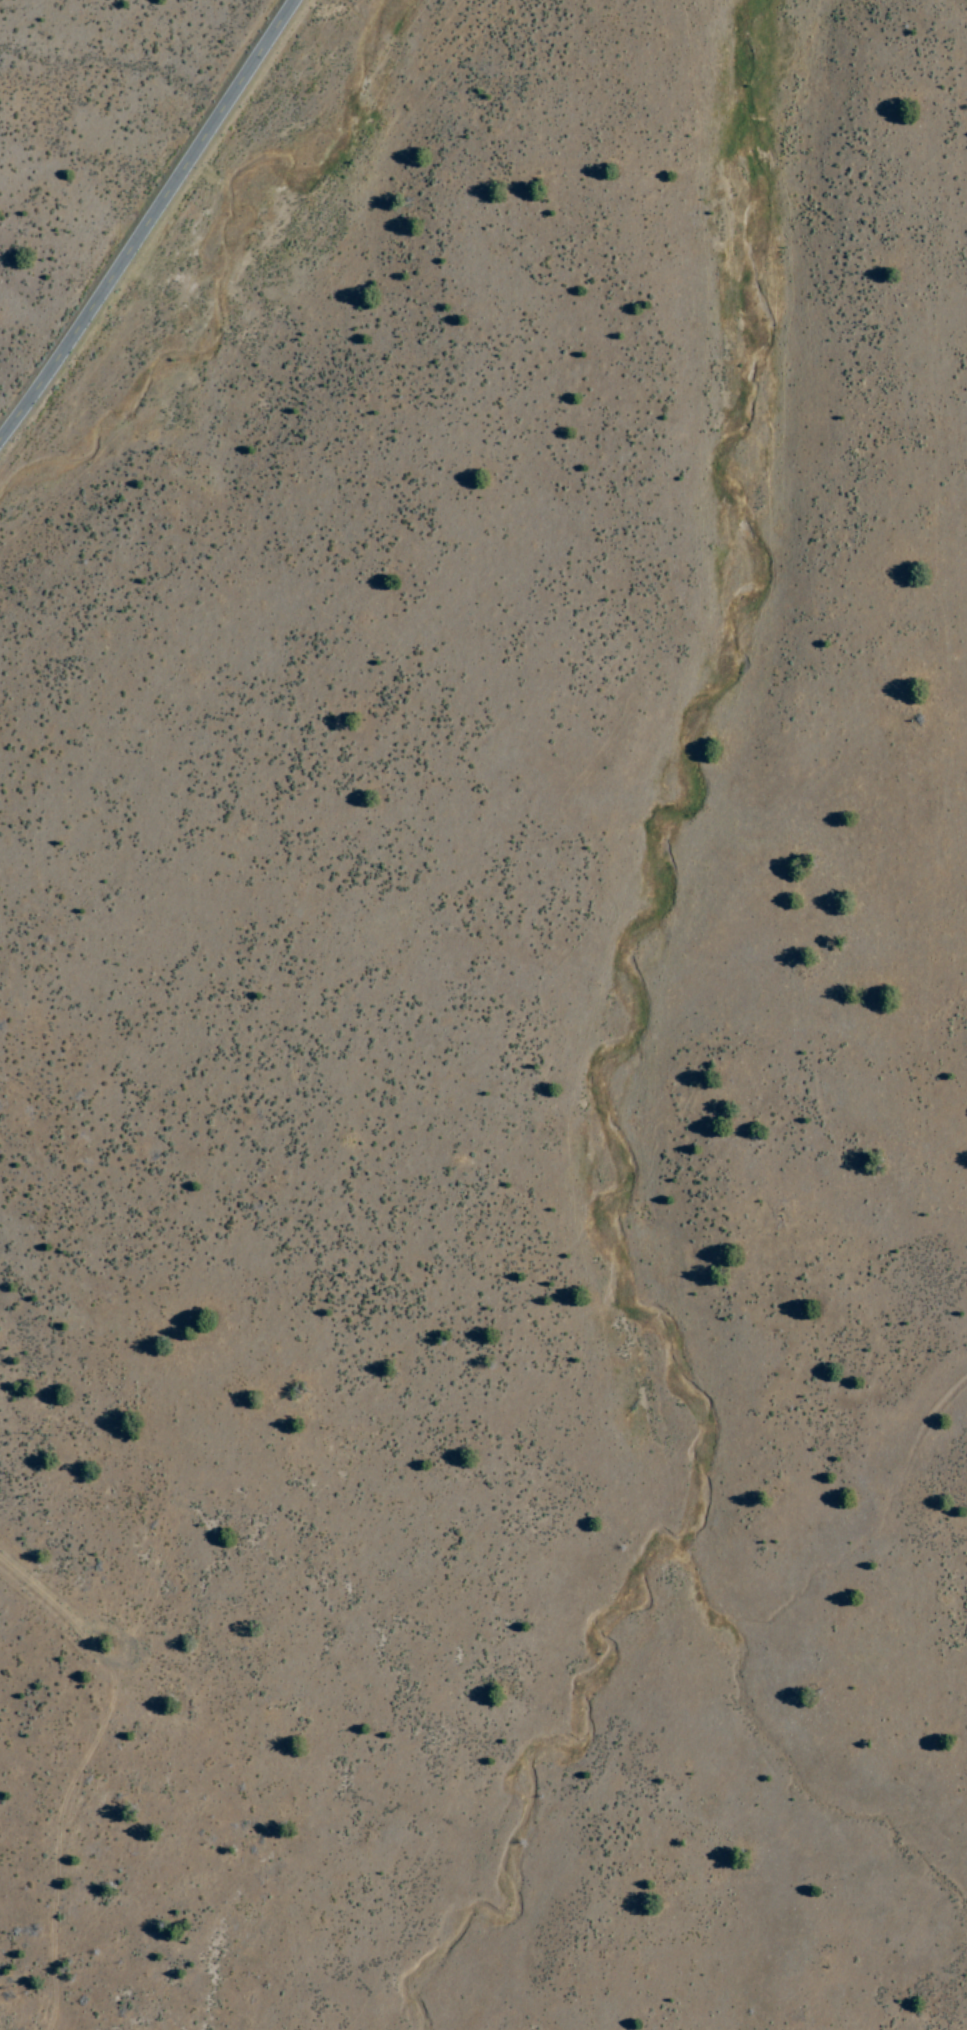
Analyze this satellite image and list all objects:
road: (151, 223)

